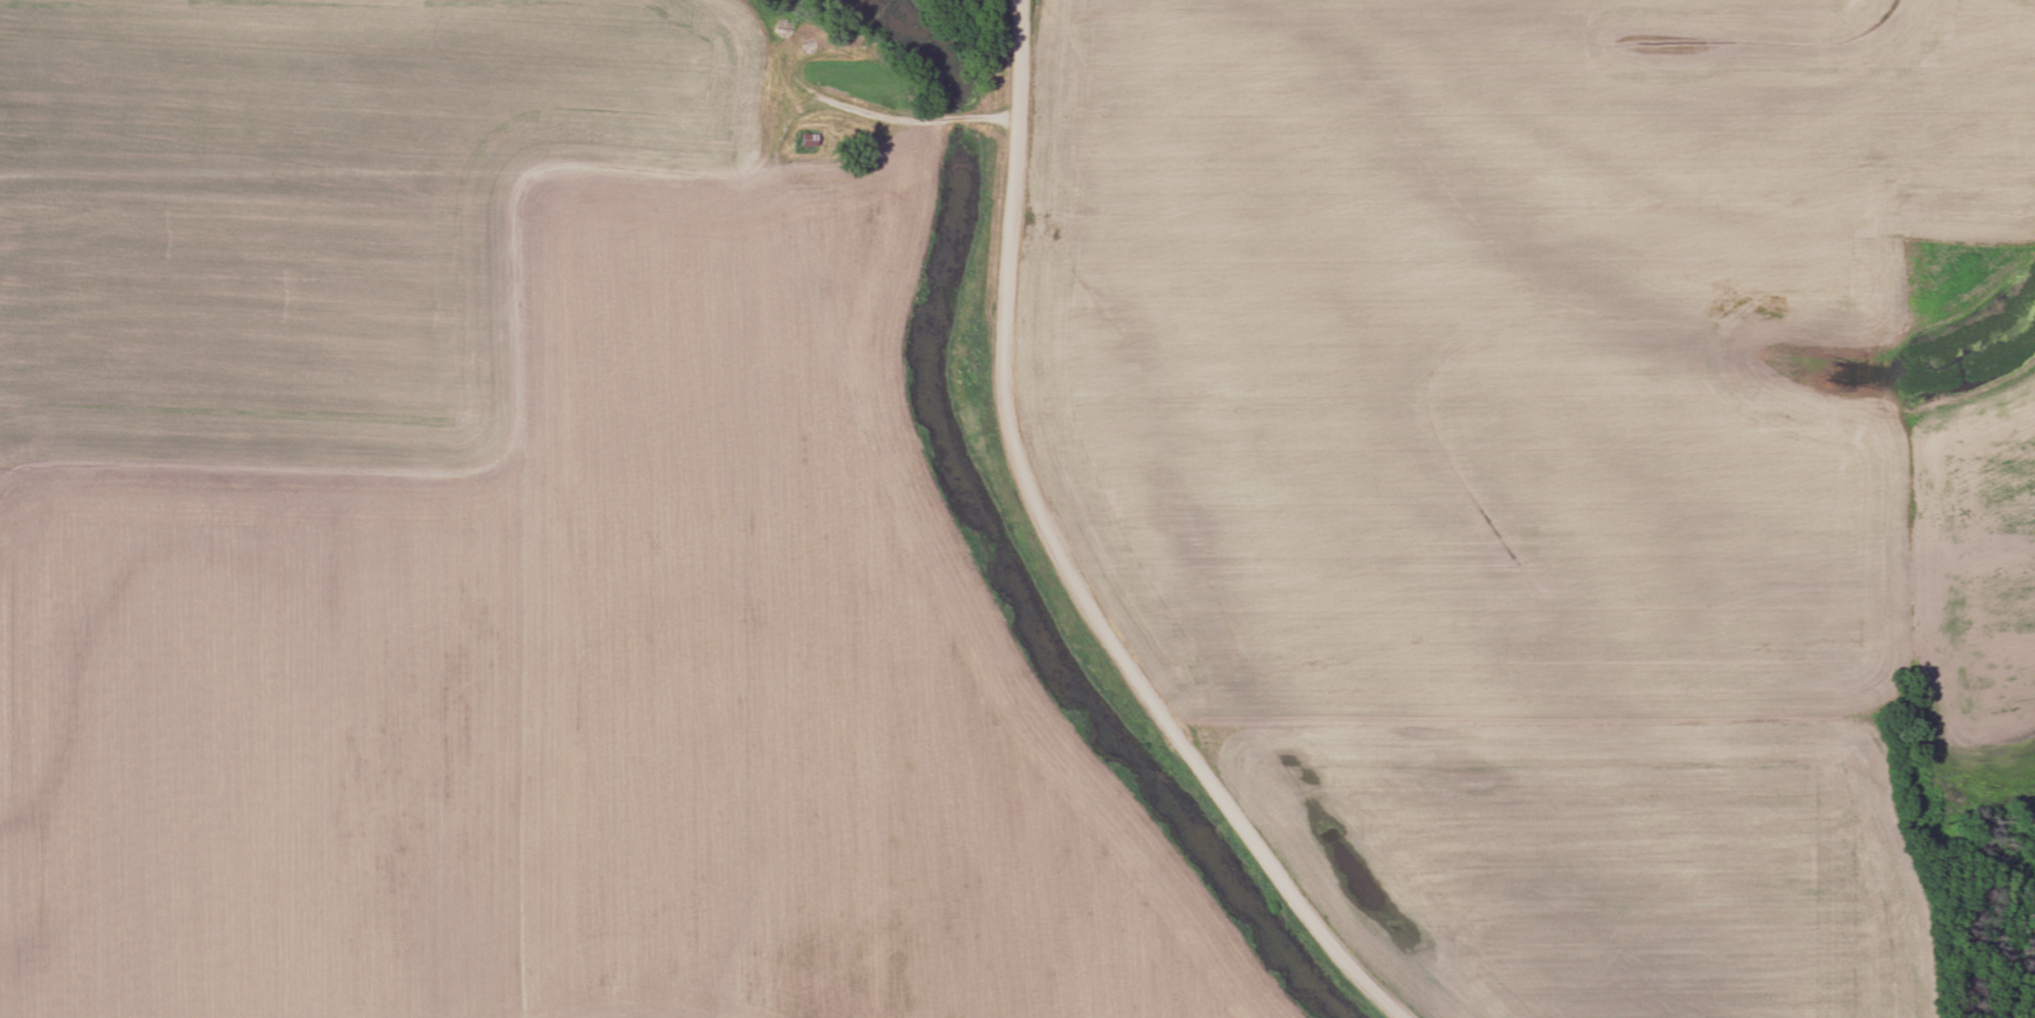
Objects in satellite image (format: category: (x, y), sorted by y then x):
road: (1065, 561)

